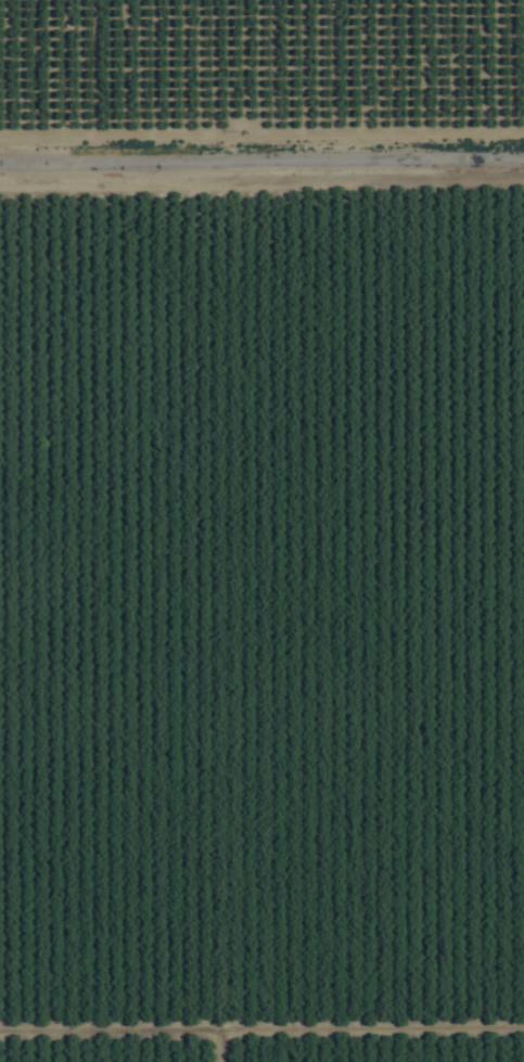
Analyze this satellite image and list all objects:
road: (261, 163)
crop: (261, 530)

